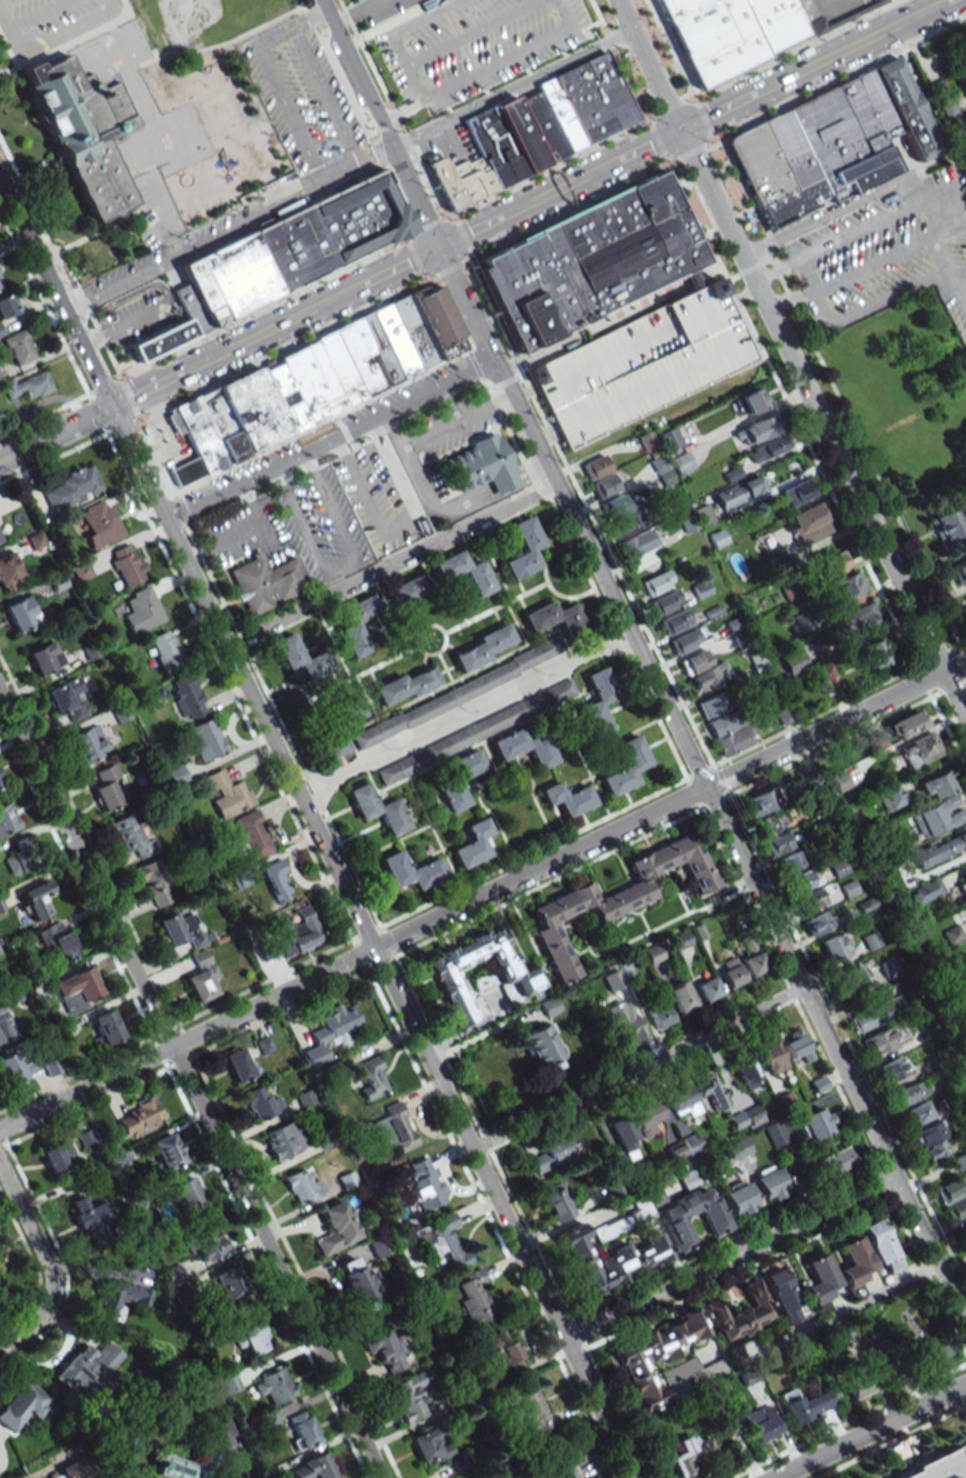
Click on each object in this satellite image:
building: (355, 0)
road: (296, 4)
building: (826, 11)
road: (36, 14)
road: (312, 16)
park: (195, 18)
road: (308, 19)
parking lot: (50, 22)
building: (774, 22)
building: (712, 36)
road: (51, 40)
road: (224, 43)
road: (63, 45)
parking lot: (476, 45)
building: (965, 64)
road: (346, 85)
road: (510, 89)
road: (325, 96)
road: (283, 99)
building: (877, 103)
building: (906, 110)
building: (539, 128)
building: (84, 130)
building: (842, 139)
building: (790, 149)
road: (379, 152)
building: (759, 164)
road: (152, 189)
road: (400, 197)
building: (792, 202)
road: (528, 203)
road: (844, 207)
road: (958, 208)
road: (875, 226)
road: (228, 230)
road: (949, 231)
building: (286, 254)
building: (589, 262)
road: (873, 264)
road: (776, 271)
road: (949, 273)
road: (807, 275)
building: (693, 279)
building: (0, 284)
road: (55, 292)
road: (890, 297)
road: (790, 300)
building: (5, 306)
road: (823, 307)
road: (620, 315)
building: (0, 331)
building: (17, 348)
road: (790, 359)
building: (641, 366)
parking garage: (641, 366)
building: (0, 378)
building: (28, 385)
building: (752, 400)
traffic signals: (109, 407)
road: (365, 418)
road: (457, 420)
building: (174, 422)
building: (755, 430)
road: (54, 433)
building: (660, 440)
building: (767, 448)
building: (682, 462)
building: (482, 465)
road: (414, 468)
building: (600, 476)
building: (70, 488)
building: (797, 491)
building: (739, 492)
road: (501, 494)
road: (203, 501)
road: (250, 504)
building: (617, 505)
building: (100, 523)
building: (626, 523)
building: (807, 524)
building: (946, 525)
road: (265, 536)
road: (223, 542)
building: (638, 542)
building: (524, 548)
building: (832, 563)
building: (127, 564)
road: (341, 566)
road: (392, 566)
building: (959, 570)
building: (8, 573)
building: (477, 575)
building: (266, 583)
building: (656, 583)
building: (848, 585)
building: (700, 589)
building: (792, 590)
building: (408, 591)
building: (665, 602)
building: (141, 610)
building: (22, 613)
building: (554, 618)
building: (860, 619)
building: (674, 622)
building: (357, 625)
building: (683, 642)
building: (483, 648)
building: (166, 651)
building: (874, 652)
building: (300, 657)
building: (44, 658)
road: (643, 661)
building: (694, 662)
building: (793, 662)
building: (822, 672)
building: (709, 677)
building: (406, 686)
building: (187, 696)
building: (69, 699)
building: (598, 700)
building: (712, 705)
building: (119, 714)
road: (465, 714)
building: (906, 724)
building: (336, 728)
building: (729, 732)
building: (207, 739)
building: (454, 741)
building: (88, 743)
building: (524, 747)
building: (920, 750)
building: (626, 766)
building: (176, 775)
building: (455, 779)
building: (0, 782)
building: (935, 784)
building: (108, 788)
building: (228, 794)
building: (890, 796)
building: (567, 798)
building: (761, 801)
building: (377, 809)
building: (936, 816)
building: (7, 819)
building: (768, 826)
building: (253, 835)
building: (133, 837)
building: (472, 844)
building: (778, 844)
building: (19, 856)
building: (792, 861)
building: (411, 871)
building: (964, 875)
building: (277, 879)
building: (802, 880)
building: (154, 883)
building: (925, 891)
road: (483, 894)
building: (614, 898)
building: (36, 899)
building: (811, 899)
building: (965, 904)
building: (817, 922)
building: (182, 930)
building: (298, 933)
building: (58, 940)
building: (679, 940)
building: (870, 940)
road: (371, 942)
building: (834, 947)
building: (0, 952)
building: (653, 954)
building: (753, 963)
building: (888, 967)
building: (730, 972)
building: (516, 975)
building: (202, 977)
building: (851, 978)
building: (608, 982)
building: (77, 989)
building: (707, 989)
building: (680, 996)
building: (549, 1007)
building: (658, 1013)
building: (875, 1014)
building: (4, 1026)
building: (106, 1027)
building: (329, 1032)
building: (879, 1042)
building: (797, 1046)
building: (542, 1047)
building: (771, 1057)
building: (238, 1065)
building: (13, 1067)
road: (637, 1068)
building: (892, 1068)
building: (746, 1071)
building: (372, 1078)
road: (191, 1085)
building: (711, 1093)
building: (909, 1093)
building: (680, 1099)
building: (261, 1103)
building: (915, 1114)
building: (753, 1115)
building: (139, 1117)
building: (645, 1117)
building: (737, 1120)
building: (815, 1122)
building: (398, 1127)
building: (623, 1133)
building: (774, 1133)
building: (327, 1138)
building: (285, 1140)
building: (929, 1141)
building: (691, 1144)
building: (734, 1150)
building: (166, 1151)
building: (551, 1154)
building: (58, 1156)
building: (118, 1159)
building: (959, 1161)
building: (834, 1162)
building: (687, 1179)
building: (769, 1182)
building: (423, 1185)
building: (302, 1186)
building: (951, 1189)
building: (186, 1195)
building: (738, 1198)
building: (555, 1201)
building: (956, 1209)
building: (90, 1219)
building: (715, 1223)
building: (336, 1227)
building: (443, 1241)
building: (207, 1243)
building: (378, 1246)
building: (881, 1246)
road: (729, 1258)
building: (607, 1259)
road: (46, 1260)
building: (855, 1260)
building: (172, 1276)
building: (821, 1281)
building: (355, 1282)
building: (228, 1283)
building: (782, 1296)
building: (119, 1299)
building: (475, 1299)
road: (866, 1299)
building: (740, 1313)
building: (253, 1338)
building: (385, 1349)
building: (502, 1350)
building: (930, 1350)
building: (661, 1361)
building: (87, 1367)
building: (272, 1385)
building: (859, 1385)
building: (228, 1386)
building: (407, 1398)
building: (21, 1405)
building: (808, 1405)
building: (528, 1407)
building: (762, 1424)
building: (731, 1427)
building: (302, 1430)
road: (869, 1430)
road: (581, 1444)
building: (429, 1447)
building: (690, 1455)
building: (554, 1458)
building: (939, 1466)
building: (178, 1468)
building: (313, 1468)
building: (73, 1469)

